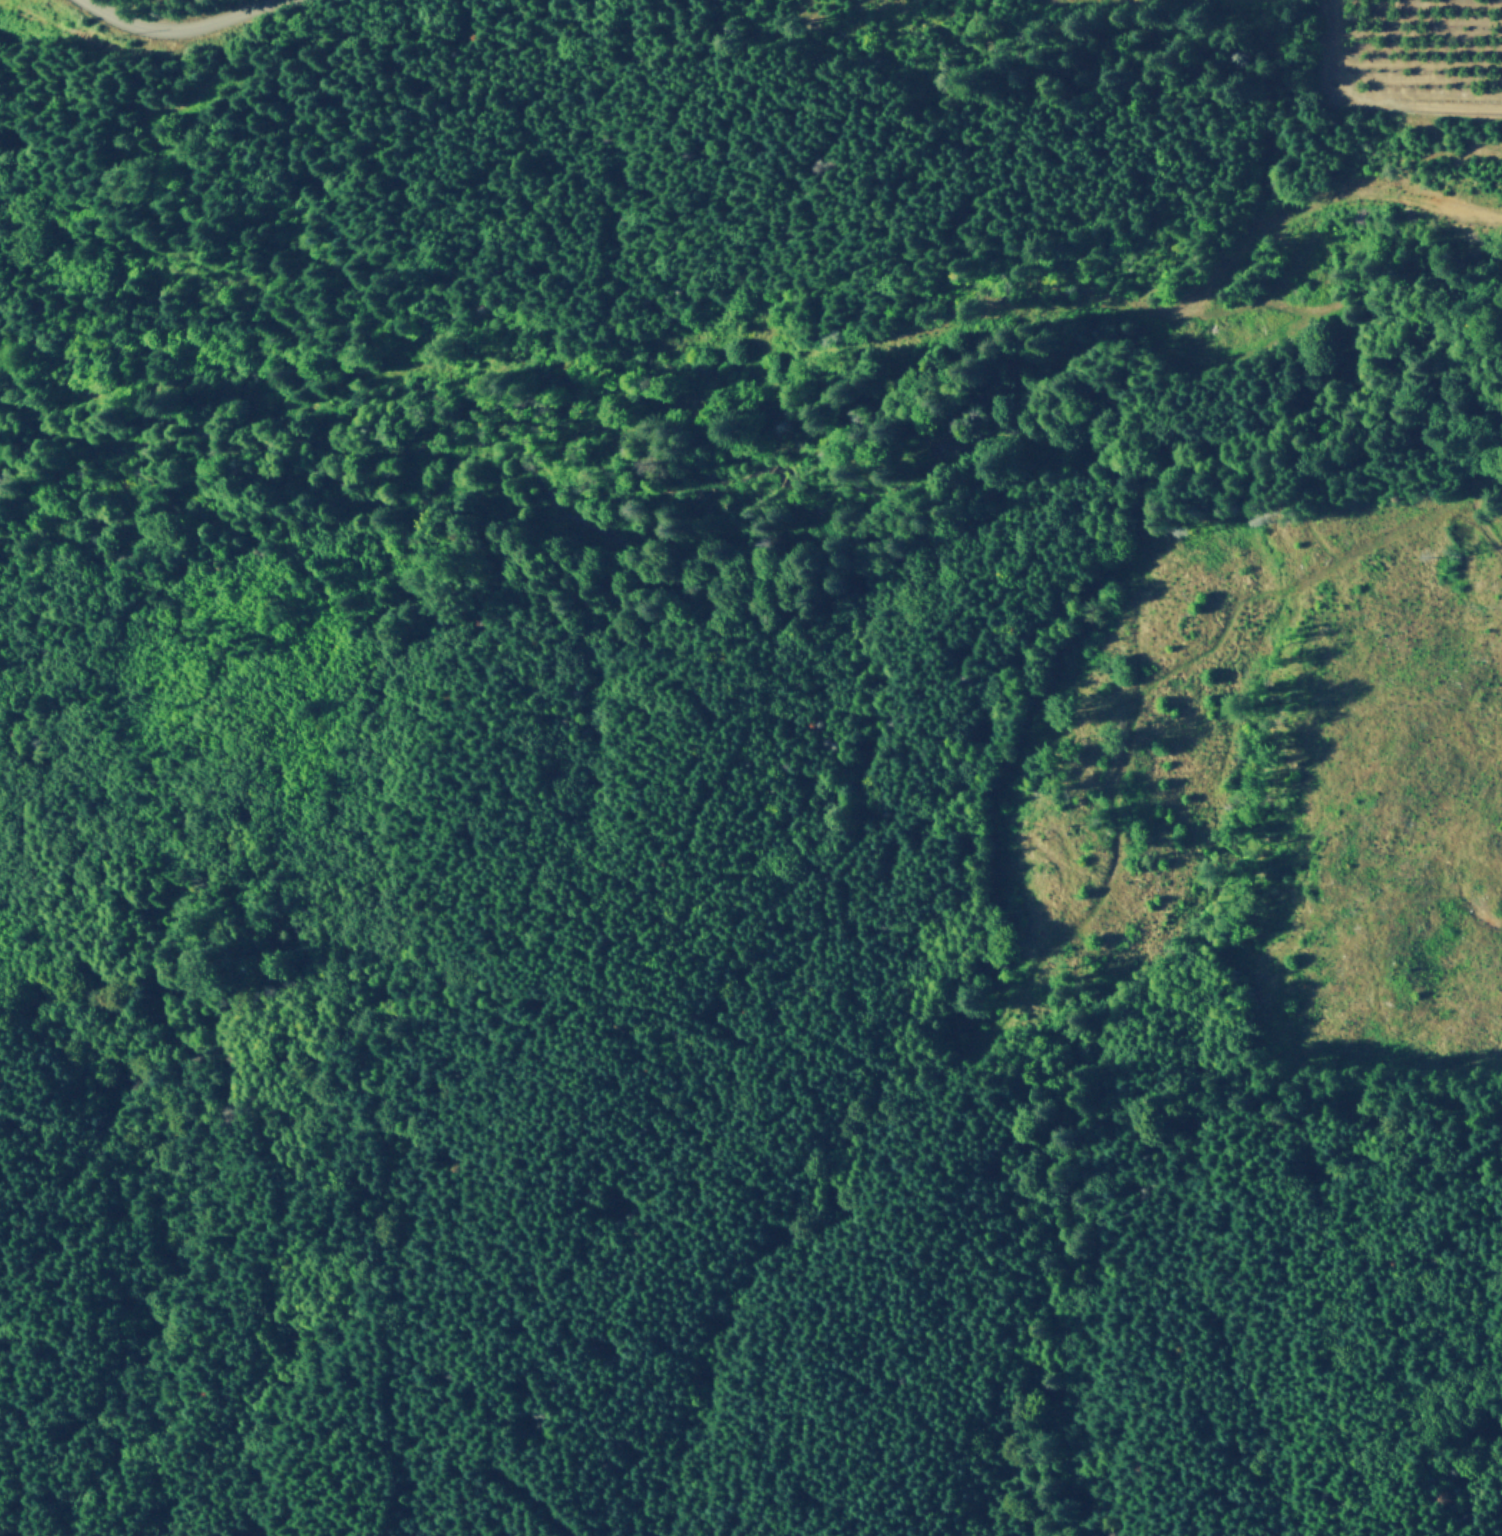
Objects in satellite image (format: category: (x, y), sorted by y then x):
road: (177, 23)
road: (1159, 310)
road: (529, 1488)

